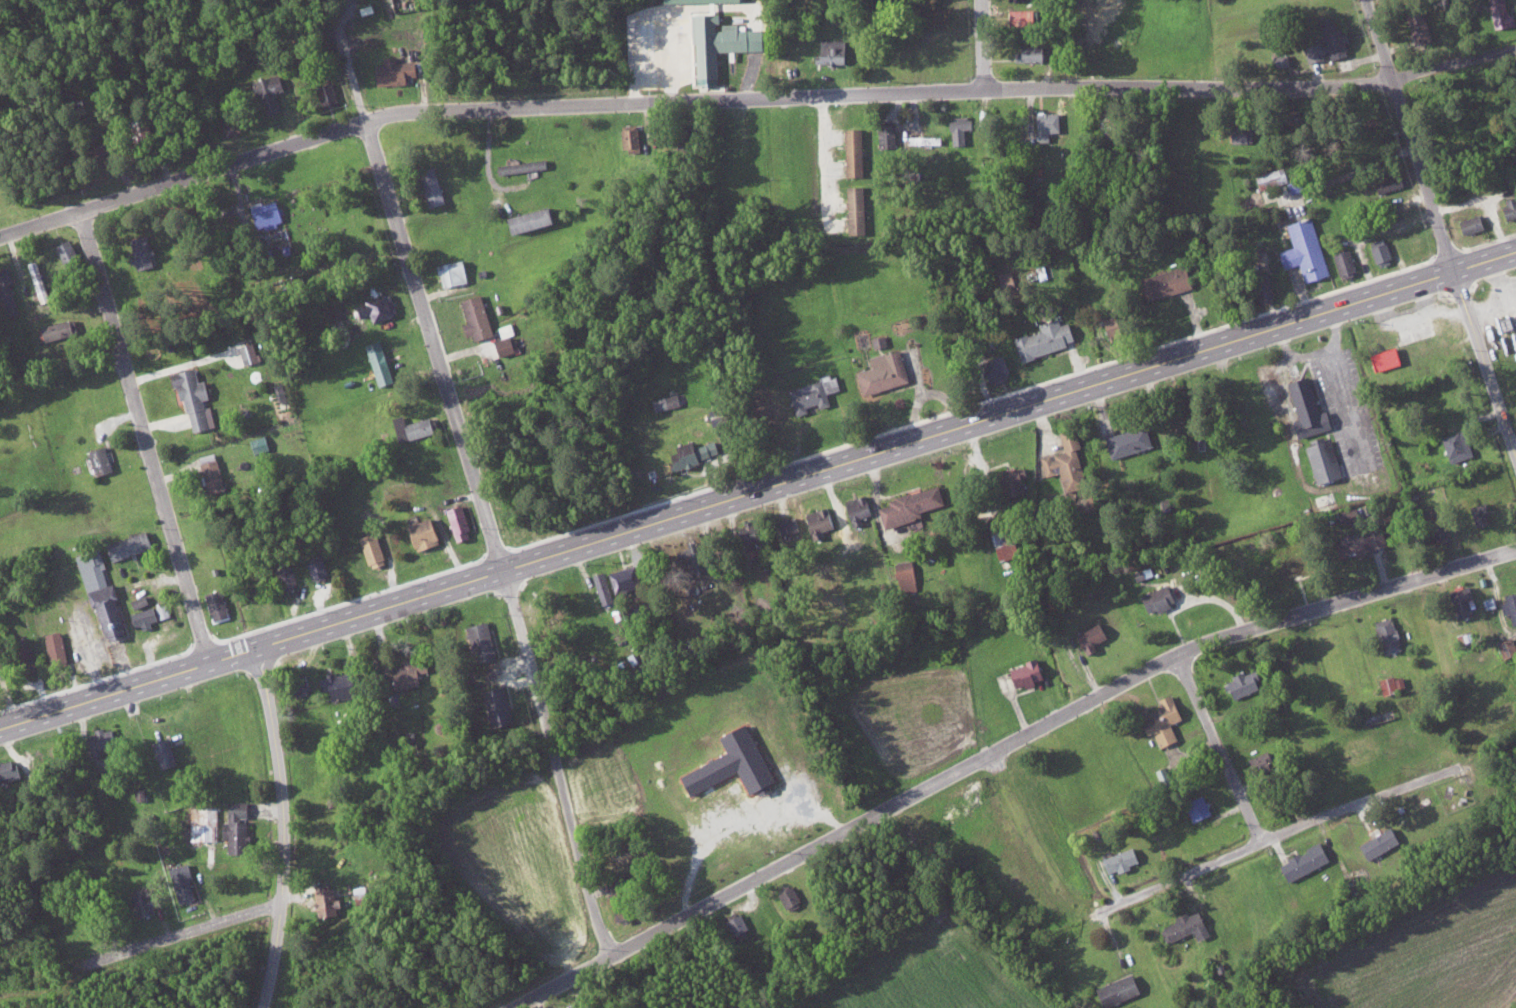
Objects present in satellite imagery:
building: (689, 1)
building: (1472, 4)
building: (1497, 13)
building: (1419, 30)
building: (1326, 41)
building: (716, 44)
road: (984, 44)
building: (828, 51)
building: (1026, 53)
building: (1278, 60)
road: (350, 64)
building: (399, 71)
building: (273, 91)
building: (331, 94)
road: (750, 98)
building: (234, 120)
building: (1045, 124)
building: (956, 130)
building: (1239, 134)
road: (1410, 135)
building: (628, 137)
building: (884, 137)
building: (924, 139)
building: (851, 152)
building: (527, 165)
building: (1388, 184)
building: (437, 190)
building: (1509, 206)
building: (854, 210)
building: (271, 214)
building: (538, 220)
building: (1469, 224)
building: (1303, 250)
building: (1379, 251)
building: (146, 252)
building: (73, 256)
building: (1343, 261)
building: (456, 271)
building: (41, 281)
building: (1162, 283)
building: (1261, 286)
building: (10, 290)
building: (381, 306)
building: (480, 316)
building: (62, 329)
building: (1042, 339)
building: (878, 341)
building: (507, 345)
road: (435, 346)
building: (252, 352)
building: (1383, 359)
building: (384, 361)
road: (1486, 362)
road: (182, 365)
building: (993, 369)
building: (881, 372)
building: (811, 393)
building: (198, 397)
building: (671, 400)
building: (1305, 409)
building: (721, 415)
building: (417, 427)
road: (144, 437)
building: (1127, 442)
building: (264, 443)
building: (1454, 446)
building: (698, 451)
building: (104, 459)
building: (1064, 461)
building: (1322, 461)
building: (217, 474)
building: (1010, 480)
road: (757, 490)
building: (906, 506)
building: (857, 509)
building: (1479, 514)
building: (463, 521)
building: (821, 522)
building: (793, 524)
building: (757, 531)
building: (429, 532)
building: (1434, 534)
building: (1357, 541)
building: (134, 544)
building: (376, 549)
building: (1004, 550)
building: (1286, 563)
building: (322, 567)
building: (291, 575)
building: (905, 576)
building: (629, 578)
building: (607, 586)
building: (107, 597)
building: (1156, 597)
building: (144, 600)
building: (1460, 600)
building: (221, 604)
building: (1509, 605)
building: (153, 614)
building: (1387, 634)
building: (484, 636)
building: (1087, 636)
building: (60, 645)
building: (1506, 646)
building: (3, 665)
building: (413, 672)
building: (1023, 673)
building: (1242, 682)
building: (1391, 682)
building: (345, 683)
building: (503, 705)
building: (1161, 719)
building: (108, 737)
road: (1002, 749)
building: (169, 751)
building: (739, 763)
road: (555, 764)
building: (10, 769)
building: (1195, 806)
building: (208, 819)
road: (1252, 823)
building: (241, 826)
road: (284, 827)
building: (1377, 842)
building: (1119, 859)
building: (1301, 861)
road: (1186, 876)
building: (187, 882)
building: (793, 896)
building: (624, 897)
building: (147, 901)
building: (331, 901)
building: (741, 923)
building: (1183, 926)
road: (184, 934)
building: (1117, 989)

